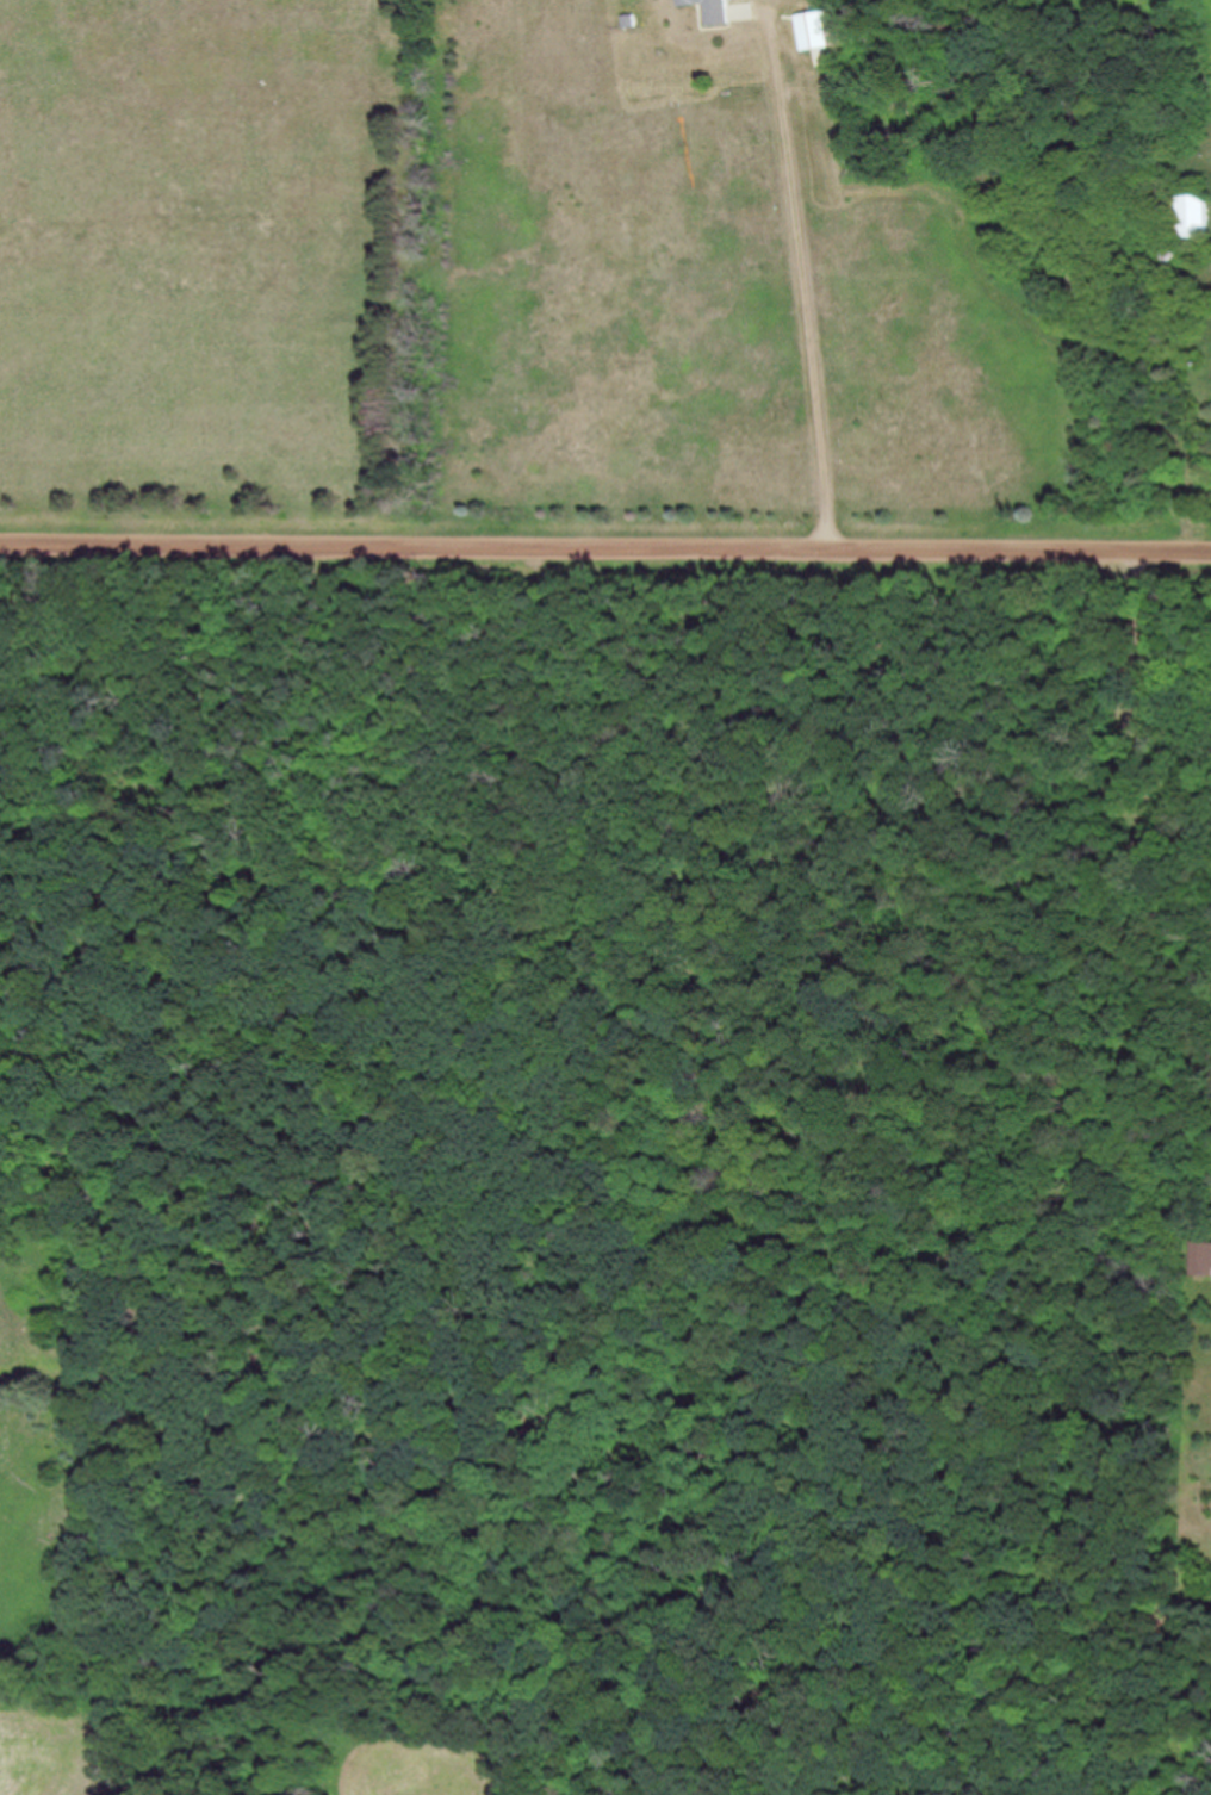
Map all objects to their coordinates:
building: (708, 11)
building: (812, 35)
building: (1190, 218)
park: (218, 254)
road: (605, 546)
road: (858, 1173)
building: (1198, 1260)

